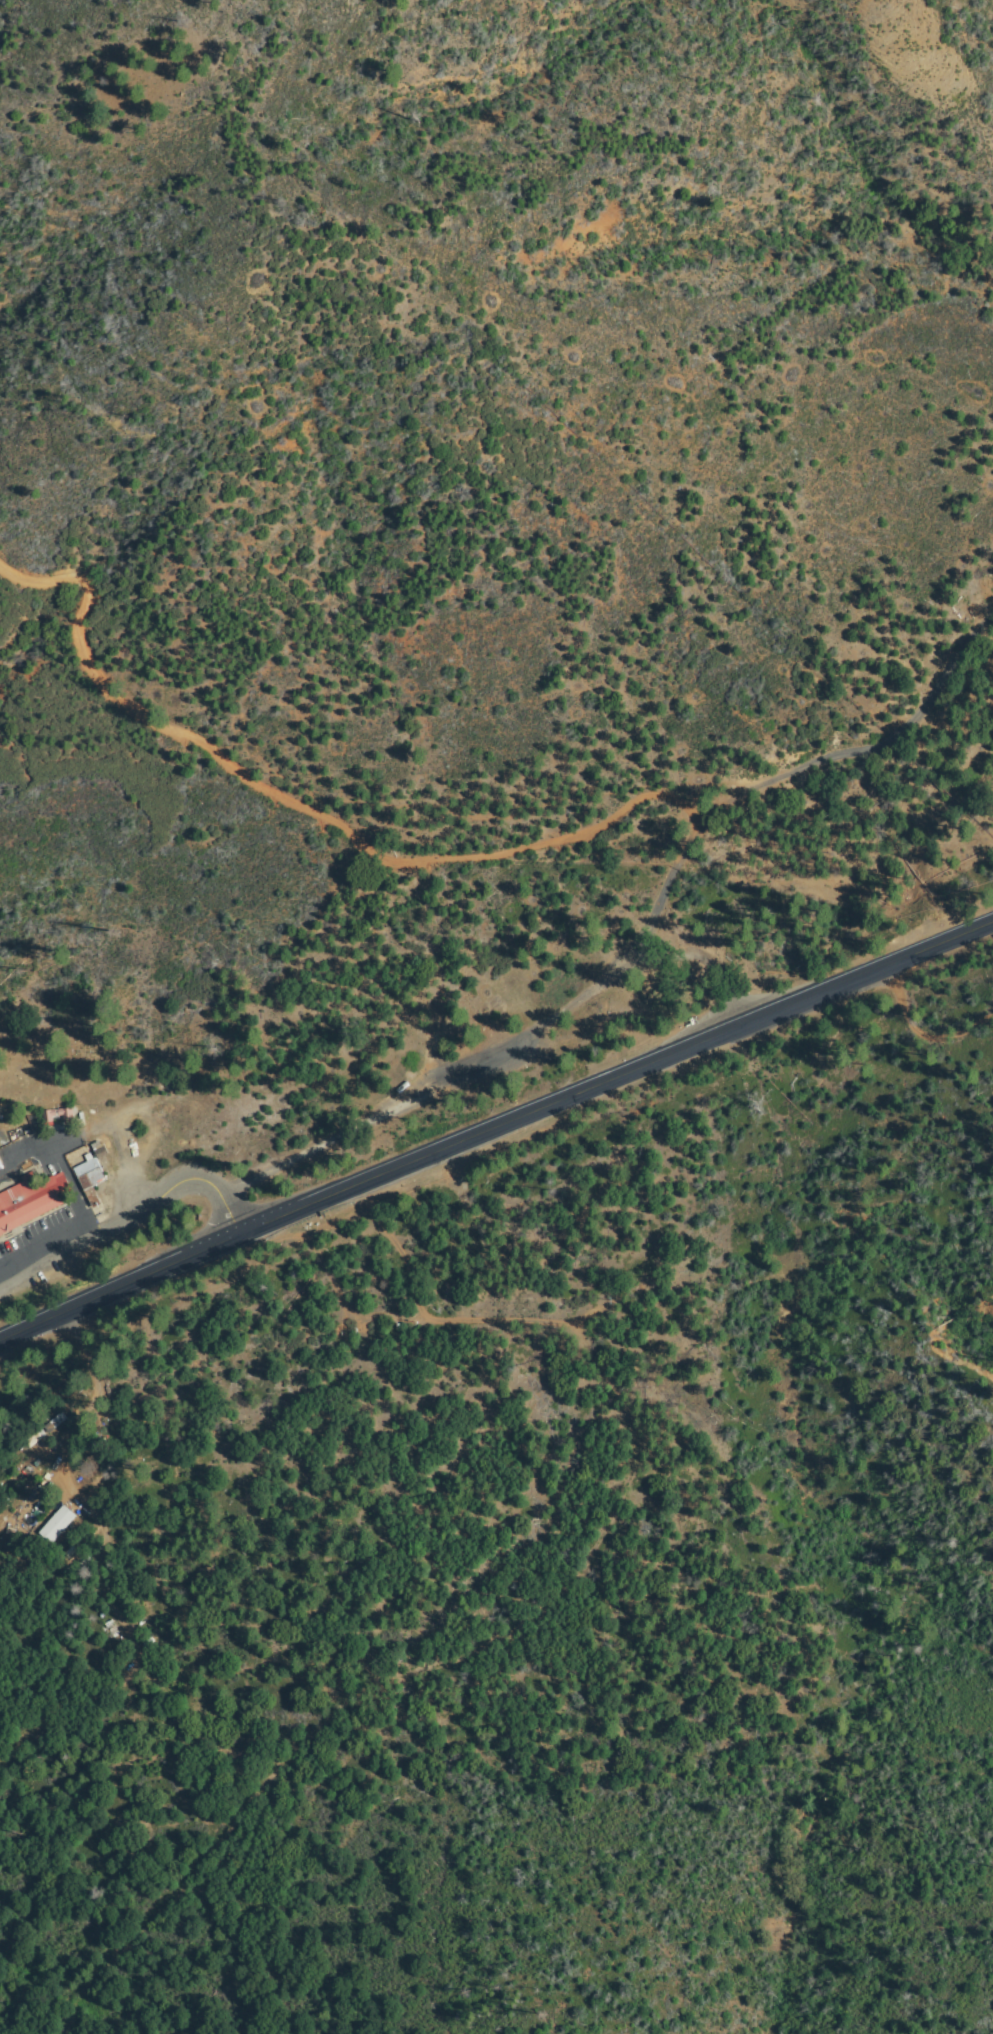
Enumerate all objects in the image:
road: (173, 729)
road: (737, 803)
road: (759, 1023)
road: (498, 1047)
building: (523, 1060)
building: (68, 1119)
building: (99, 1150)
road: (18, 1159)
building: (1, 1170)
building: (88, 1177)
building: (31, 1202)
road: (131, 1218)
road: (261, 1229)
parking lot: (38, 1233)
building: (57, 1525)
building: (76, 1567)

